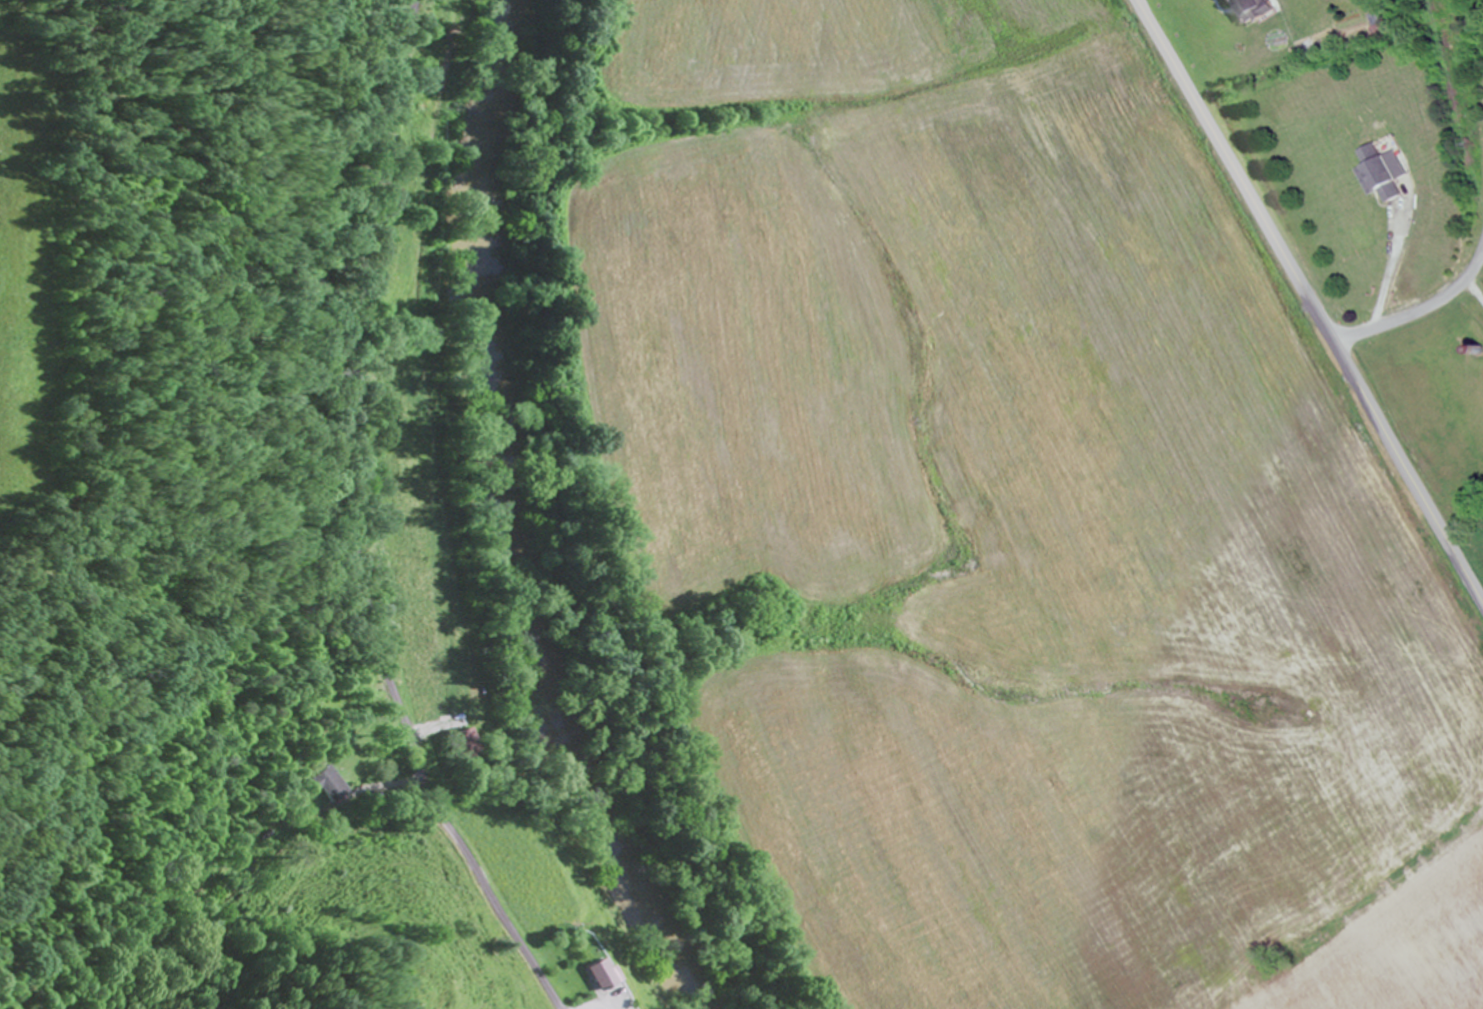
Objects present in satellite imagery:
building: (1246, 11)
building: (1376, 172)
road: (1309, 301)
road: (1423, 308)
road: (355, 524)
river: (491, 528)
building: (331, 797)
building: (600, 977)

